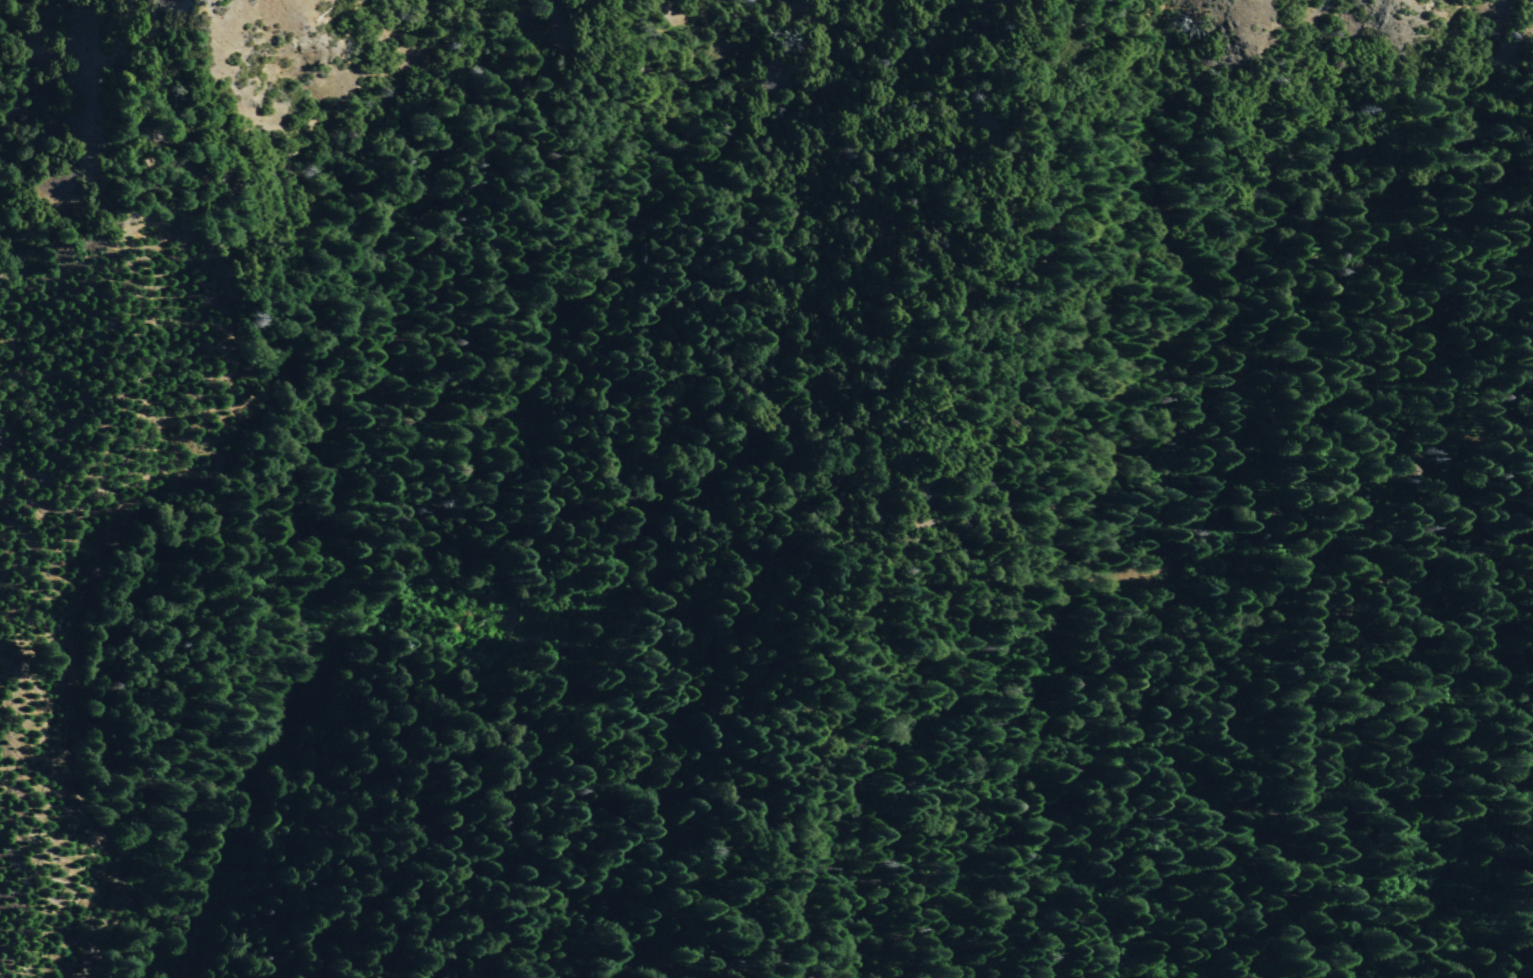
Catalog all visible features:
road: (1436, 489)

